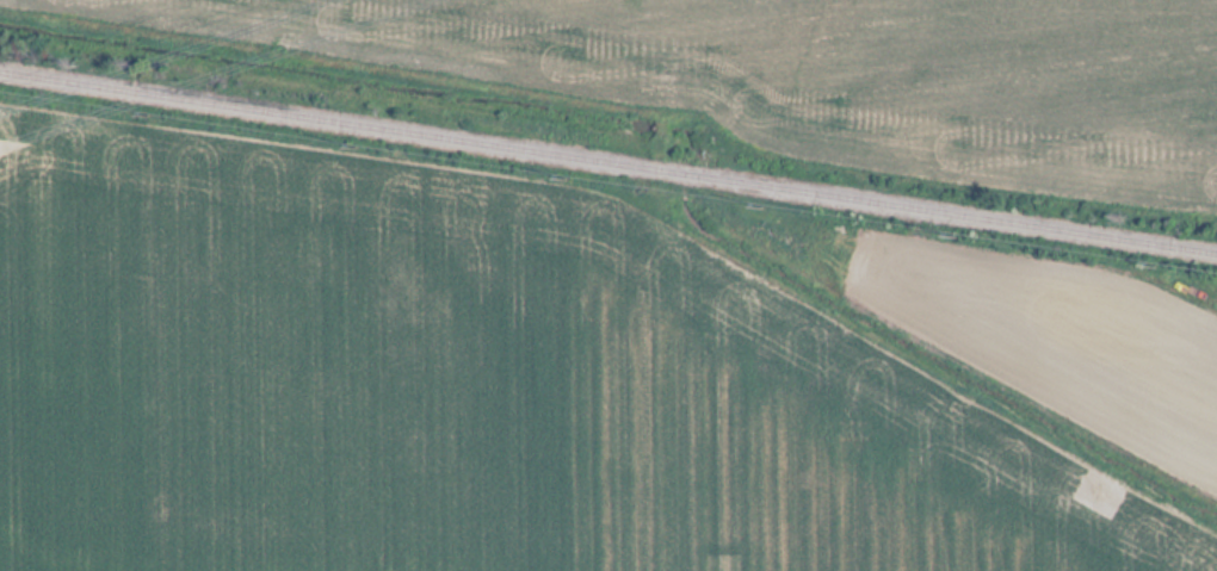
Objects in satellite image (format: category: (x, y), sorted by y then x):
power tower: (1, 141)
railway: (607, 169)

